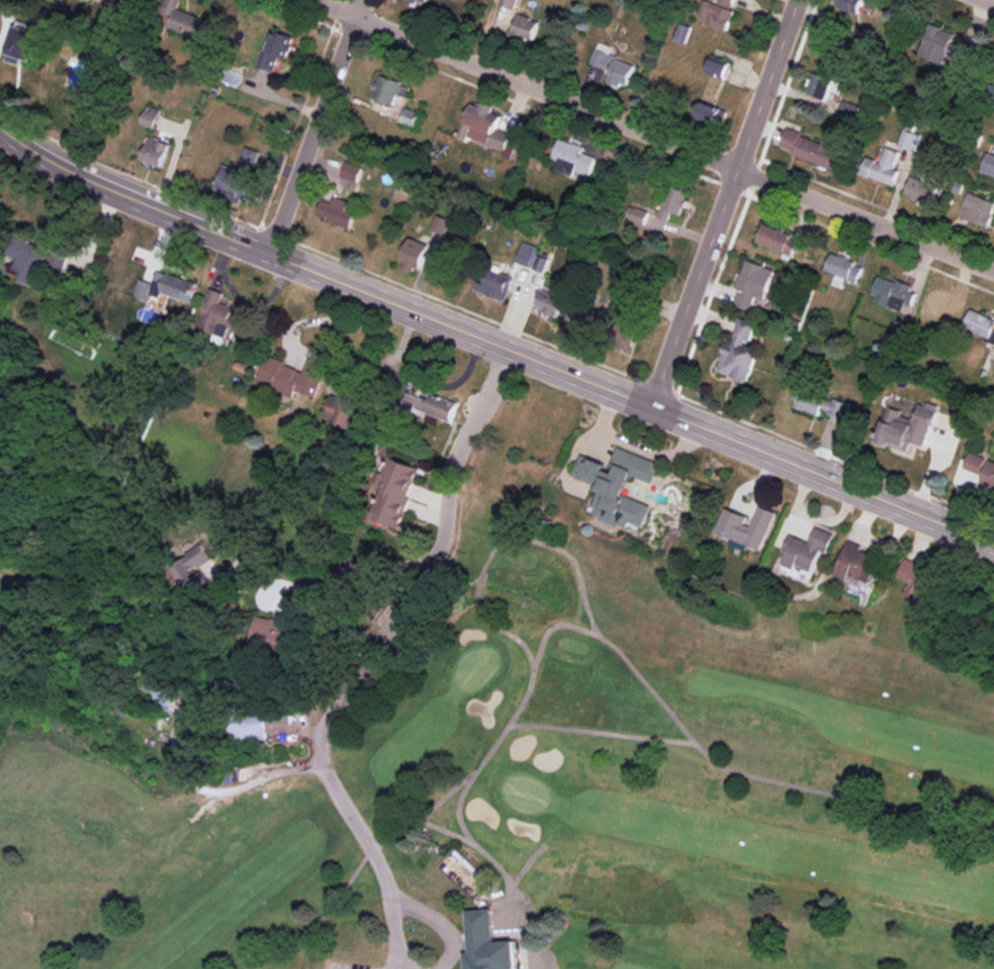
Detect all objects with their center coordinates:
building: (425, 1)
building: (726, 2)
building: (508, 3)
building: (852, 5)
building: (716, 13)
building: (187, 21)
building: (526, 27)
building: (25, 44)
building: (944, 45)
building: (276, 50)
building: (614, 65)
building: (718, 66)
building: (821, 85)
building: (389, 89)
building: (850, 110)
building: (710, 114)
building: (150, 116)
building: (410, 117)
building: (479, 124)
road: (313, 126)
road: (653, 134)
building: (910, 138)
building: (505, 142)
building: (810, 148)
building: (156, 151)
building: (573, 158)
building: (988, 163)
building: (884, 167)
building: (351, 171)
building: (235, 183)
building: (923, 191)
building: (673, 202)
road: (722, 202)
building: (978, 209)
building: (338, 211)
building: (636, 216)
building: (441, 223)
building: (778, 239)
building: (415, 254)
building: (29, 257)
building: (531, 257)
building: (58, 259)
building: (844, 267)
building: (753, 283)
building: (496, 284)
building: (166, 287)
building: (894, 293)
road: (240, 299)
building: (549, 302)
building: (938, 310)
building: (218, 315)
building: (587, 318)
building: (980, 324)
building: (625, 334)
road: (493, 342)
building: (740, 352)
road: (313, 353)
building: (293, 376)
road: (373, 395)
building: (821, 404)
building: (431, 406)
building: (906, 427)
building: (974, 462)
building: (989, 474)
building: (618, 486)
building: (394, 490)
building: (746, 527)
building: (808, 549)
building: (858, 563)
road: (316, 578)
building: (921, 581)
building: (280, 626)
road: (367, 659)
building: (158, 689)
building: (246, 724)
park: (542, 796)
road: (441, 920)
building: (487, 944)

